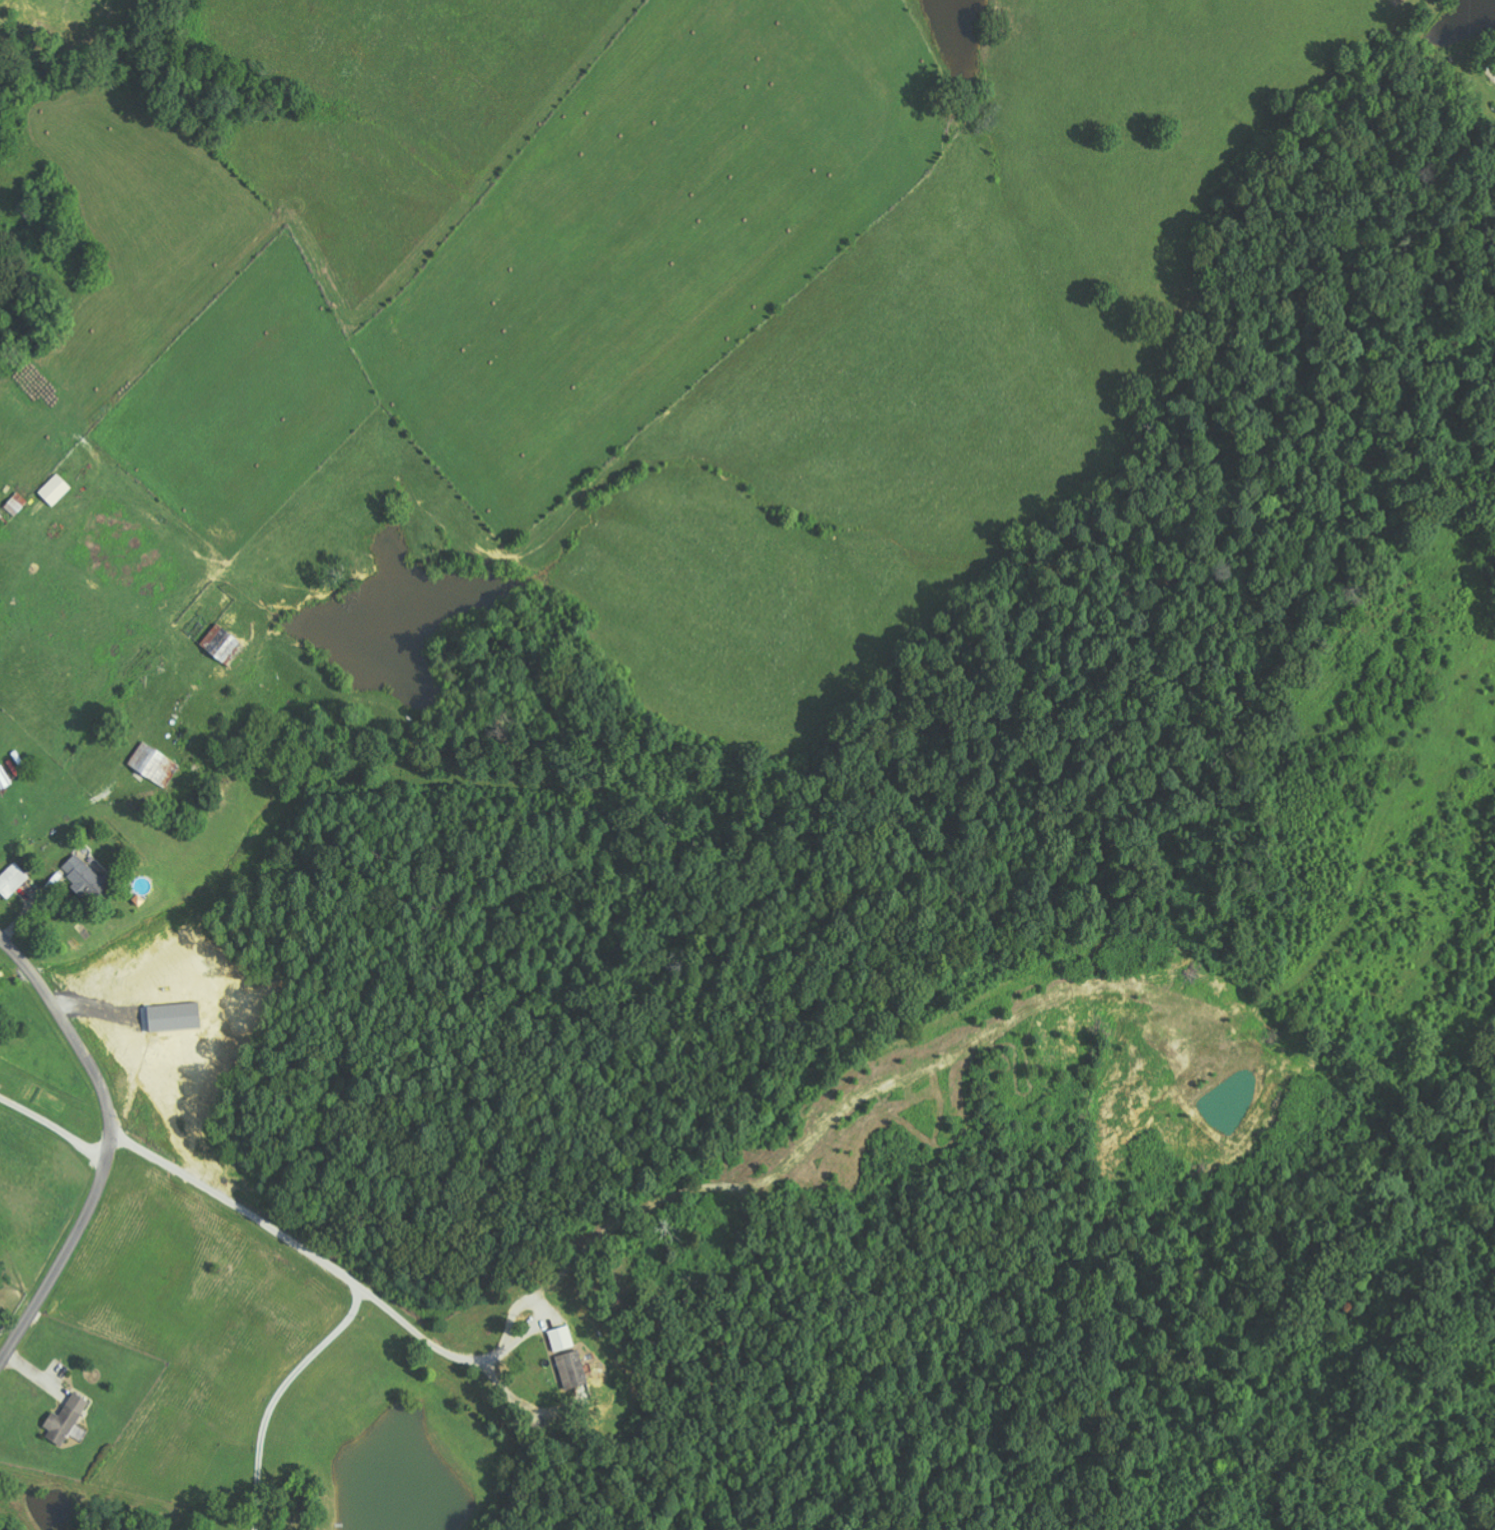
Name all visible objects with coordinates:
building: (56, 490)
building: (18, 502)
building: (221, 643)
building: (155, 765)
building: (4, 779)
building: (85, 877)
building: (13, 880)
road: (39, 1057)
road: (110, 1150)
road: (477, 1242)
building: (562, 1337)
building: (573, 1369)
road: (275, 1396)
road: (445, 1406)
building: (68, 1420)

